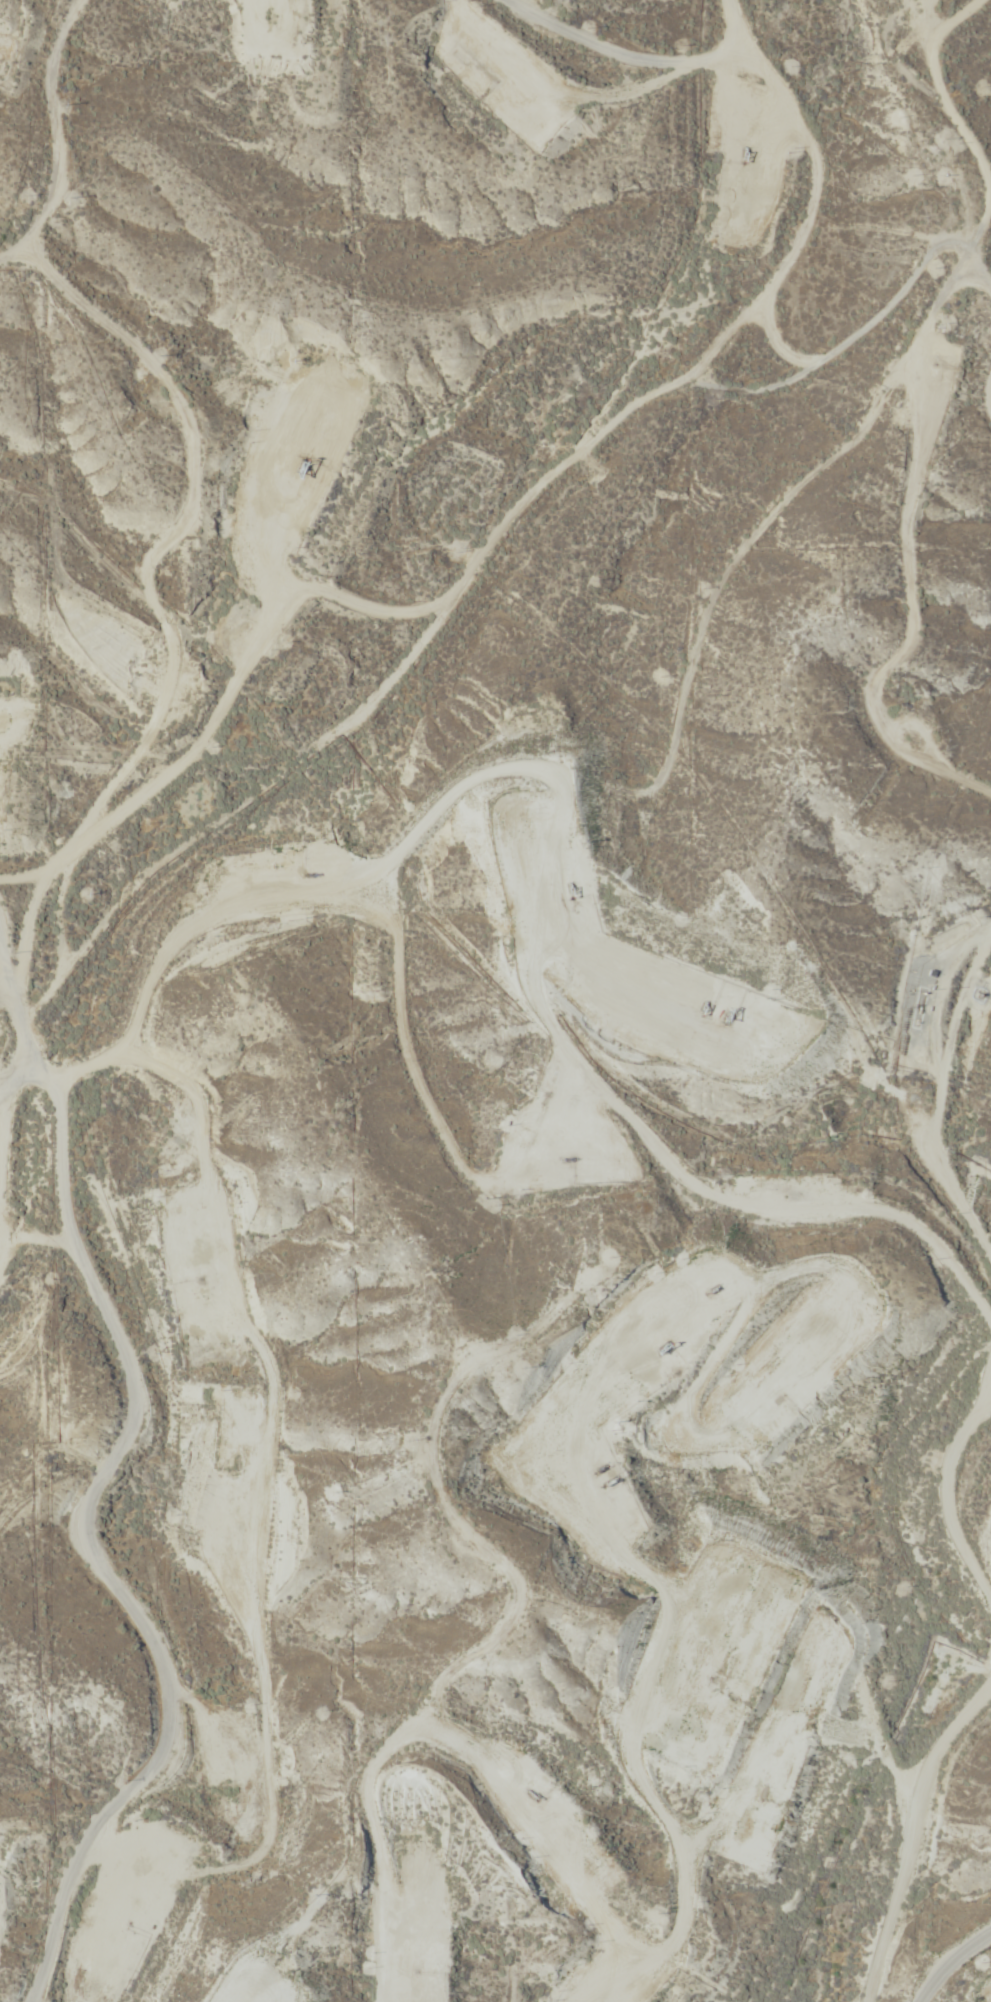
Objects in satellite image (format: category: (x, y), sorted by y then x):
road: (61, 11)
road: (745, 34)
road: (776, 88)
road: (44, 118)
road: (963, 237)
road: (538, 443)
road: (881, 498)
road: (205, 584)
road: (18, 1031)
road: (986, 1126)
road: (834, 1190)
road: (117, 1519)
road: (533, 1520)
road: (829, 1730)
road: (918, 1896)
road: (954, 1964)
road: (118, 1974)
road: (102, 1989)

